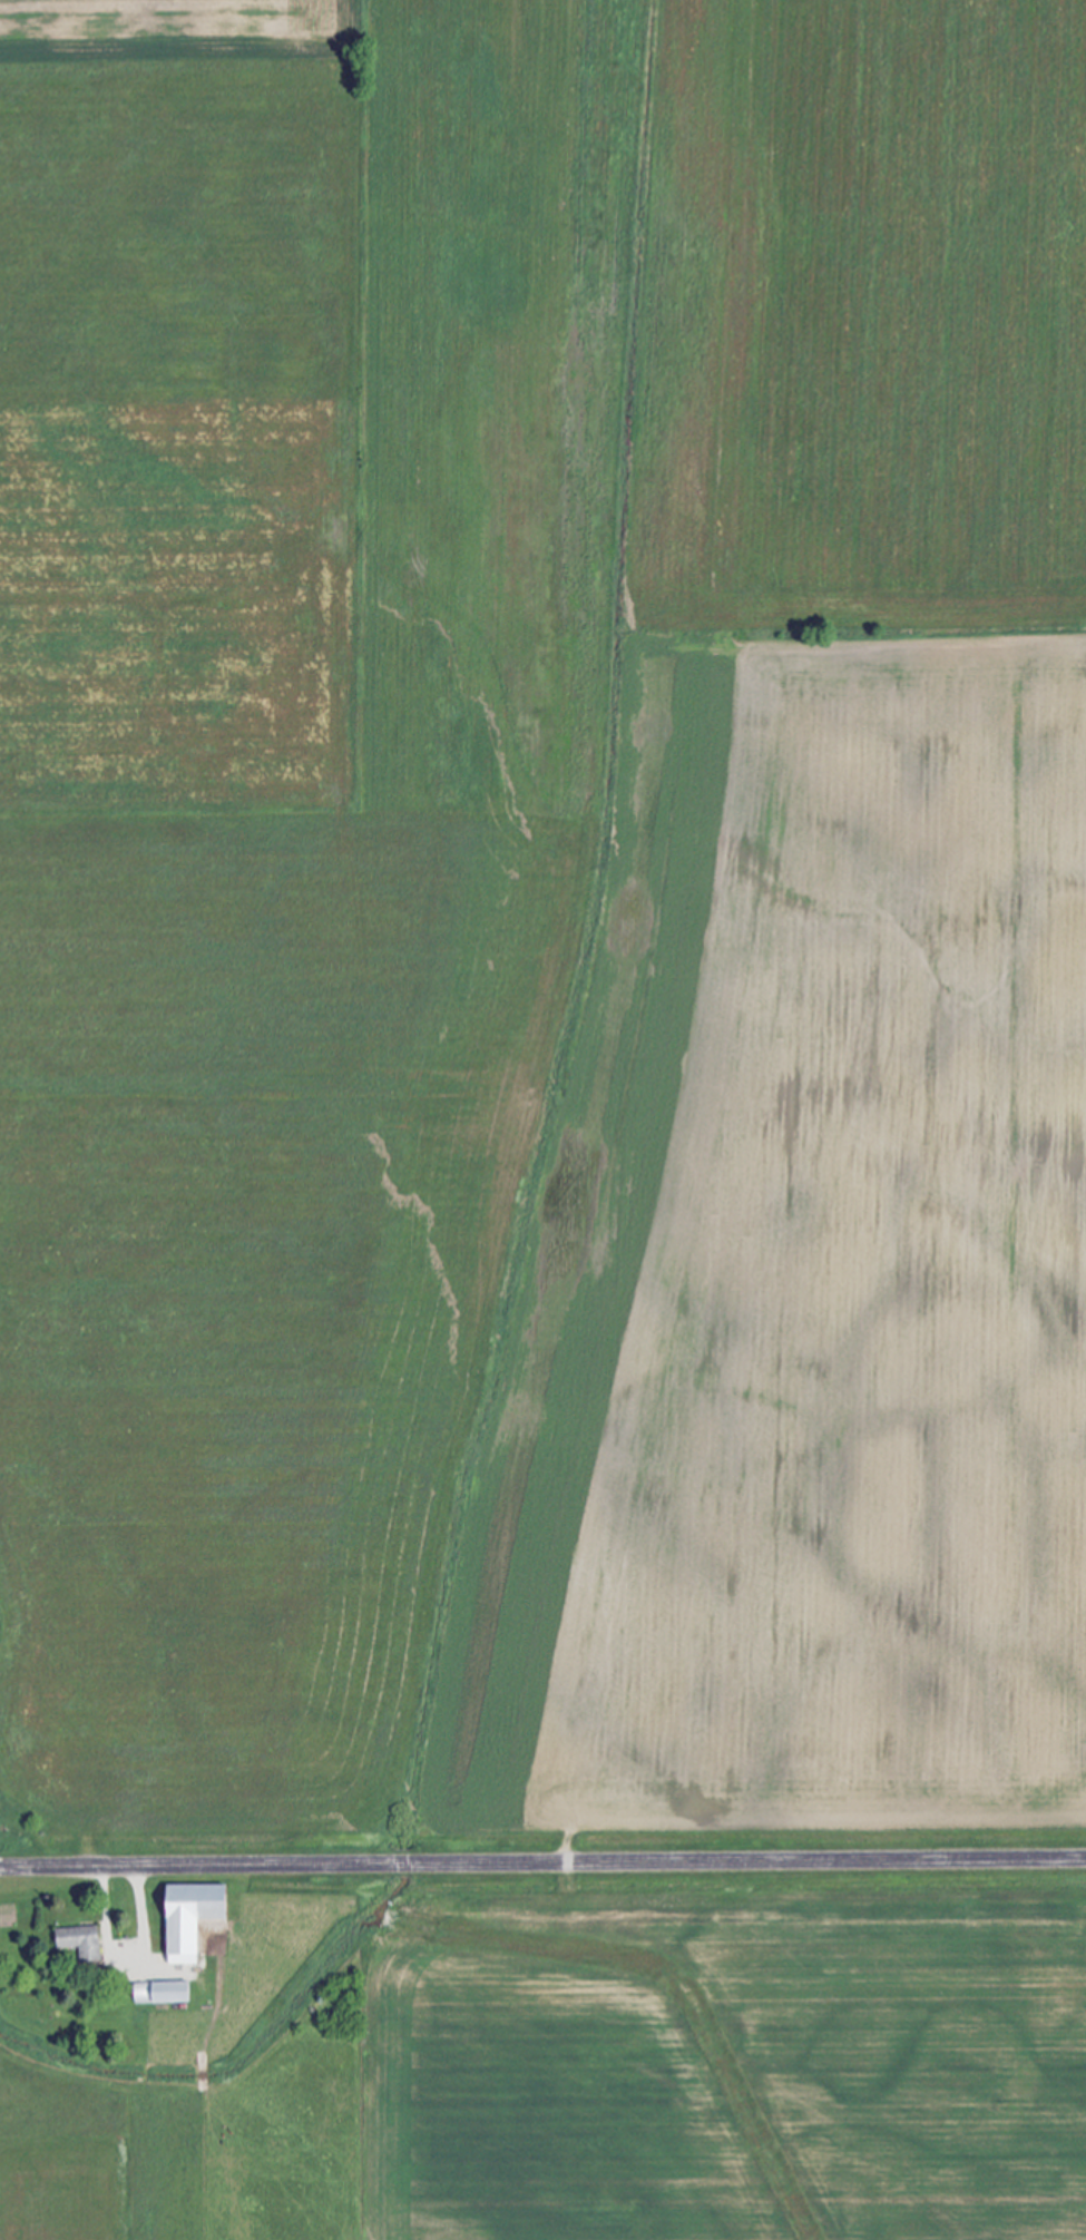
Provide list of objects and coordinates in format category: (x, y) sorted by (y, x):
road: (542, 1861)
building: (187, 1918)
building: (78, 1940)
road: (131, 1965)
building: (159, 1992)

